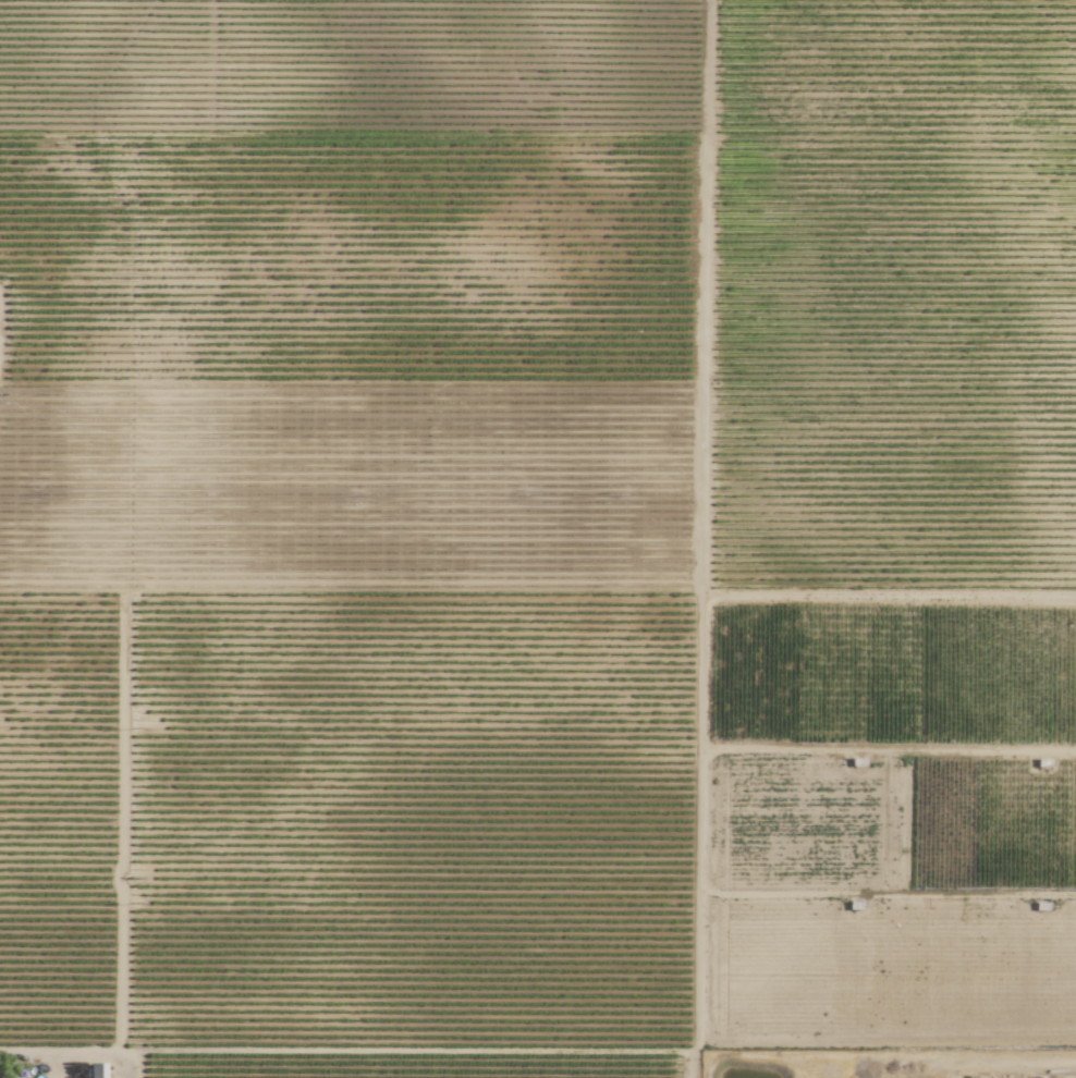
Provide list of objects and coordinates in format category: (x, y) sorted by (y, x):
road: (28, 1054)
road: (99, 1056)
road: (58, 1067)
building: (95, 1070)
building: (12, 1077)

